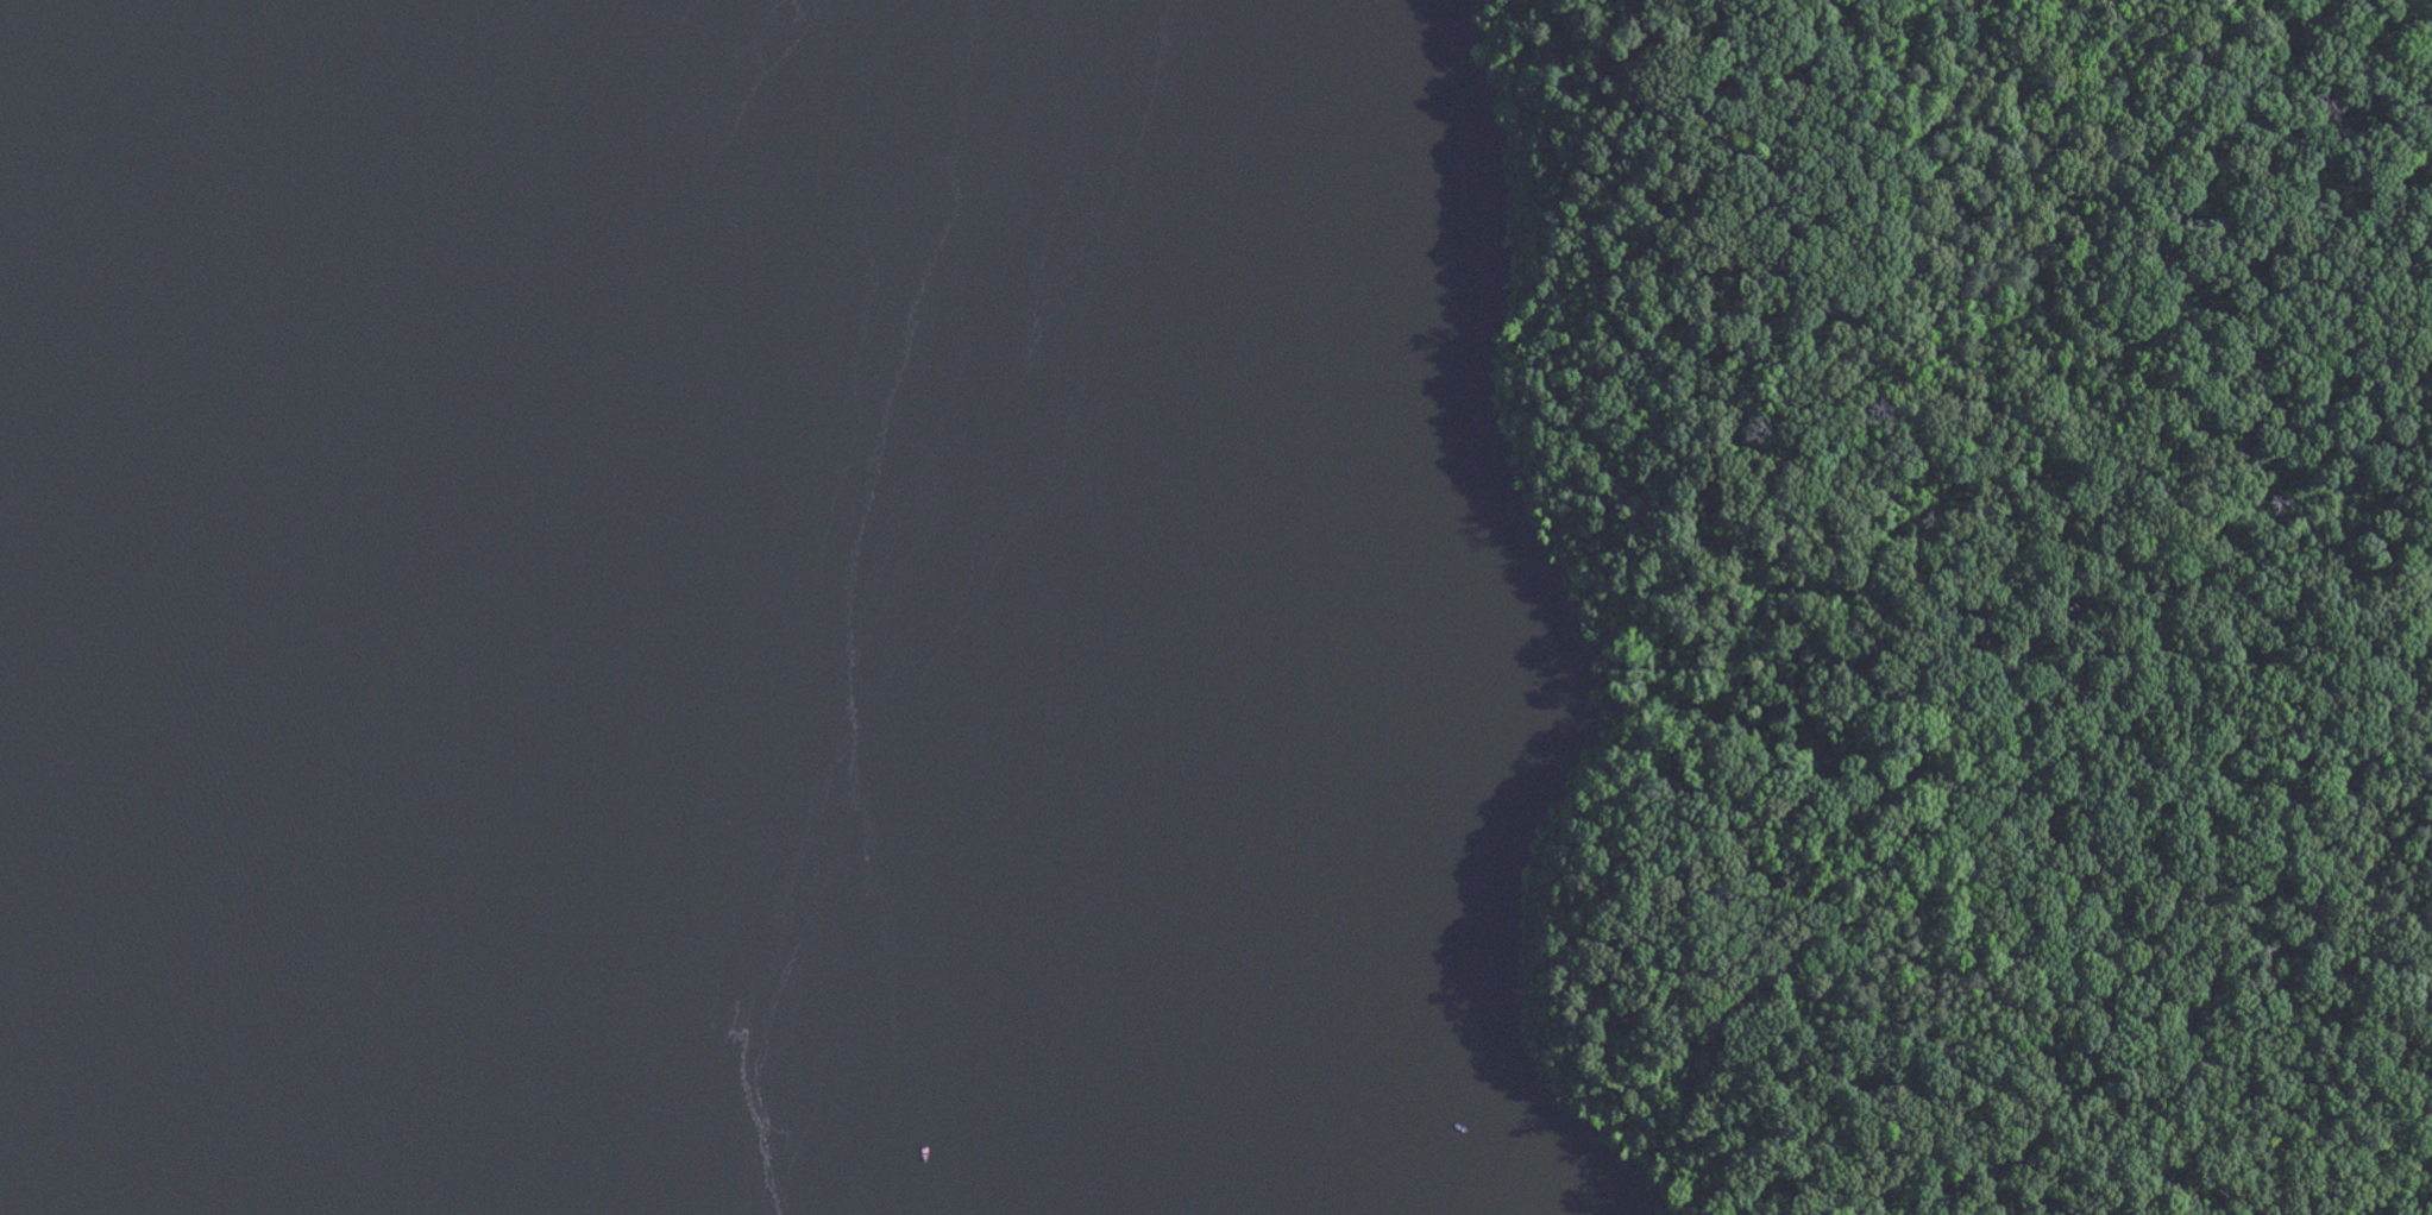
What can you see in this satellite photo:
river: (350, 605)

